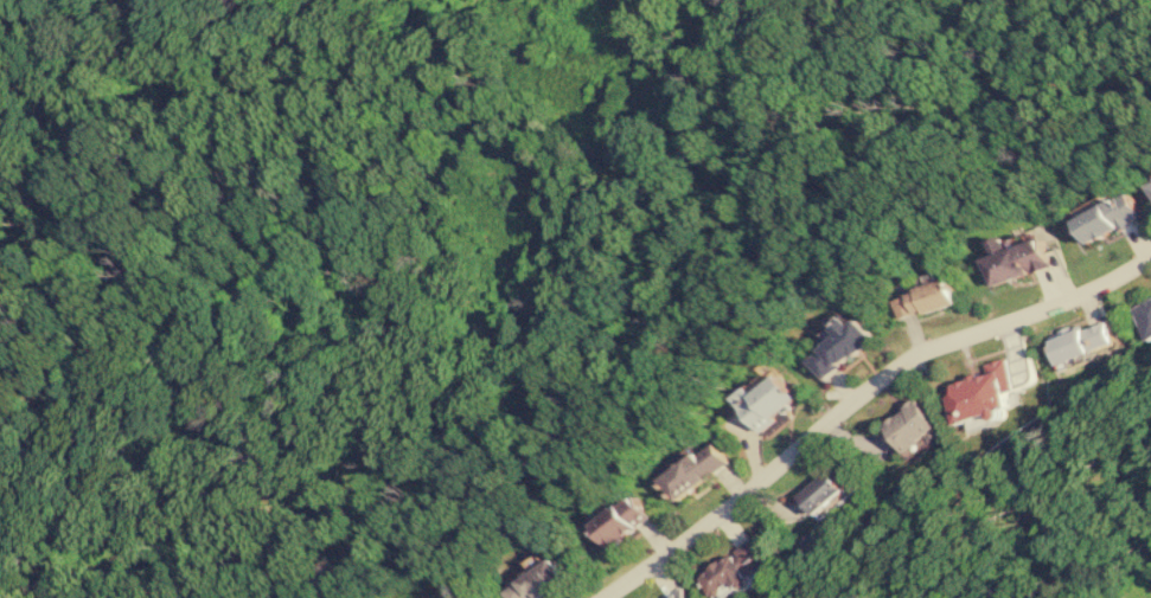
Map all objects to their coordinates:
building: (1110, 217)
building: (1016, 262)
building: (925, 298)
building: (1144, 316)
building: (1080, 343)
building: (840, 347)
building: (984, 392)
road: (859, 397)
building: (766, 399)
building: (914, 424)
building: (695, 470)
building: (823, 491)
building: (622, 520)
building: (735, 570)
building: (539, 581)
building: (680, 594)

